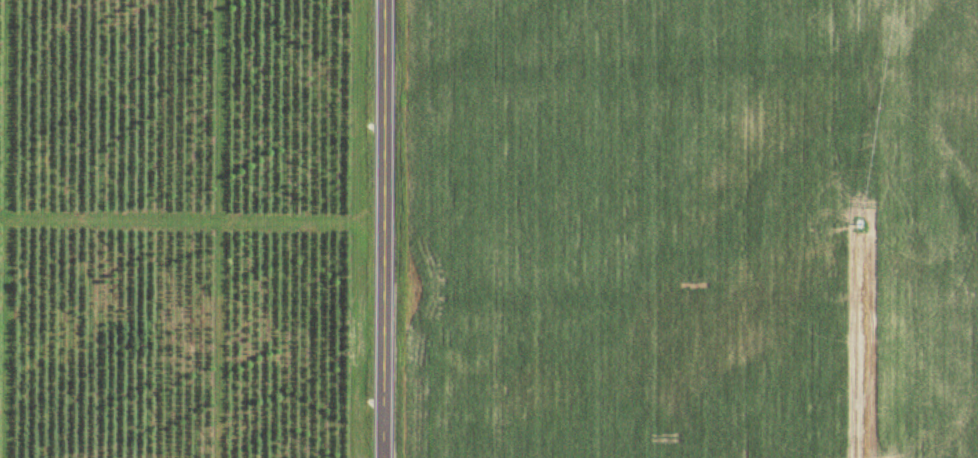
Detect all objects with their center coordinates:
road: (386, 229)

